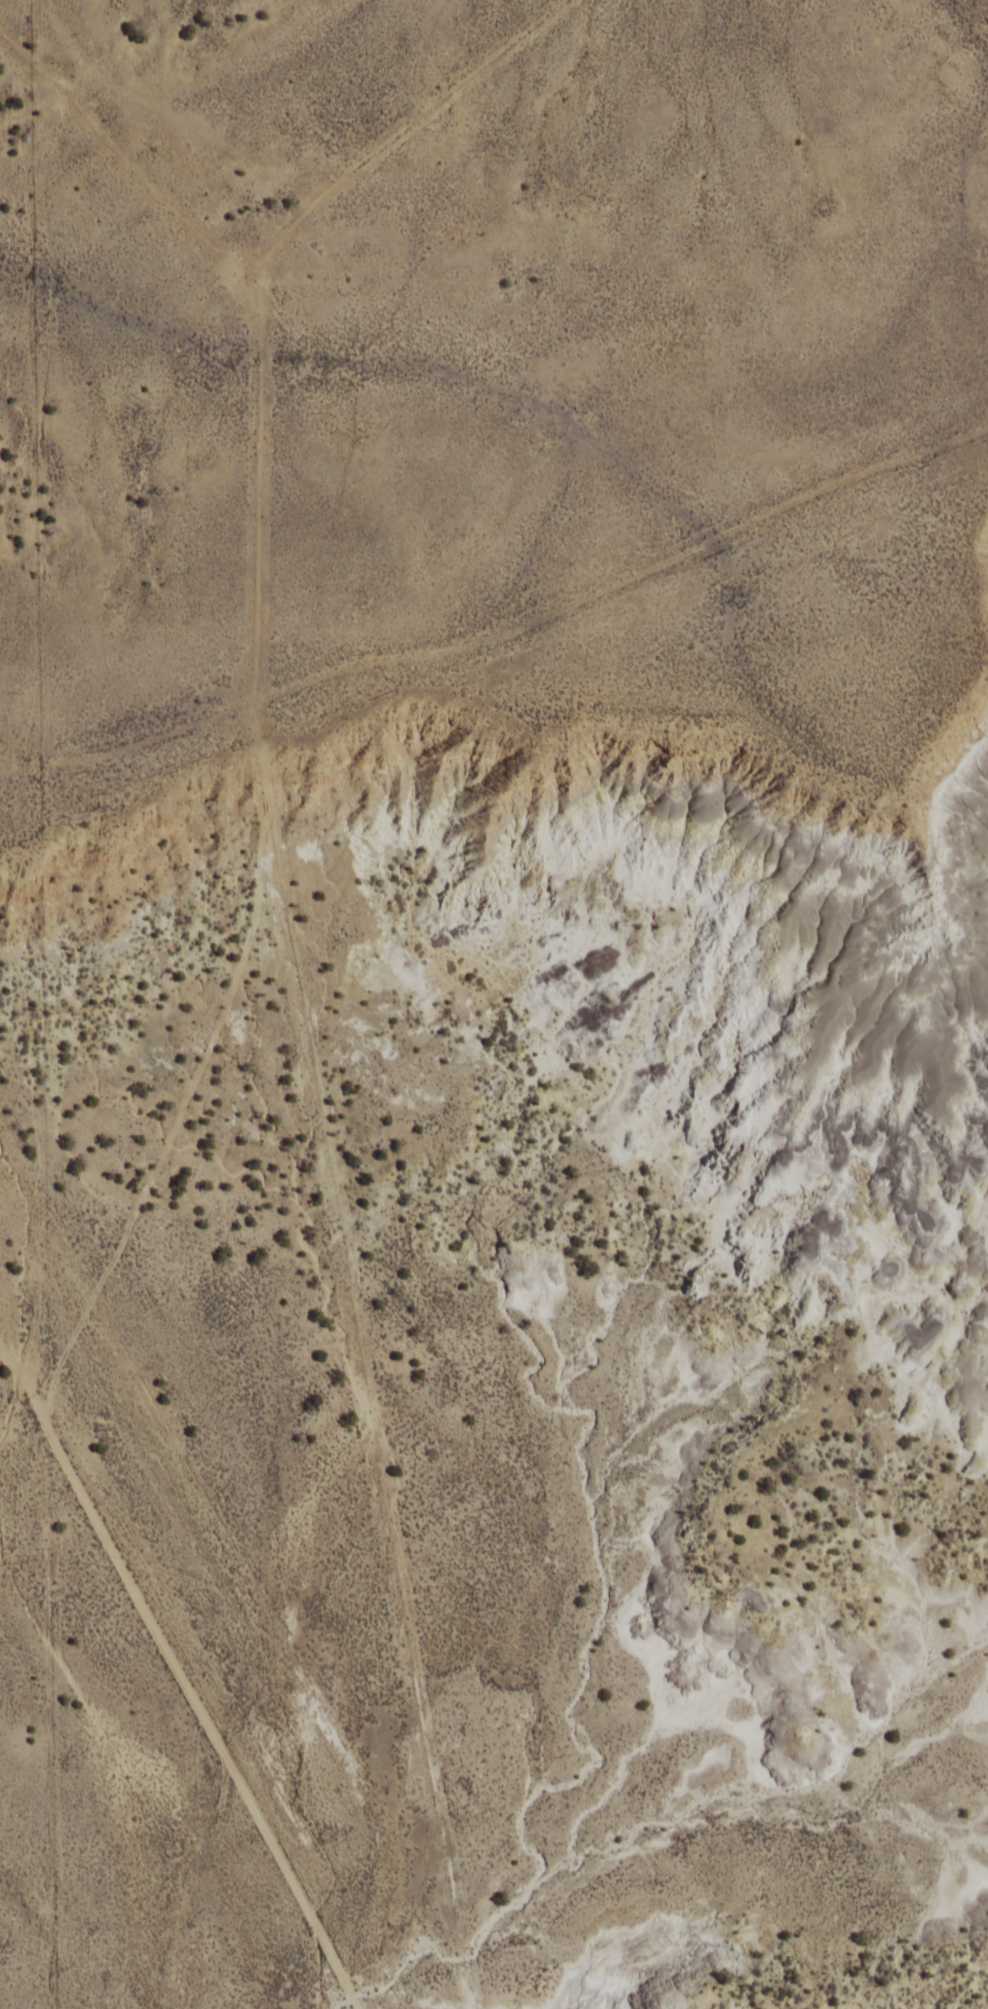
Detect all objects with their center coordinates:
road: (489, 590)
road: (181, 1678)

